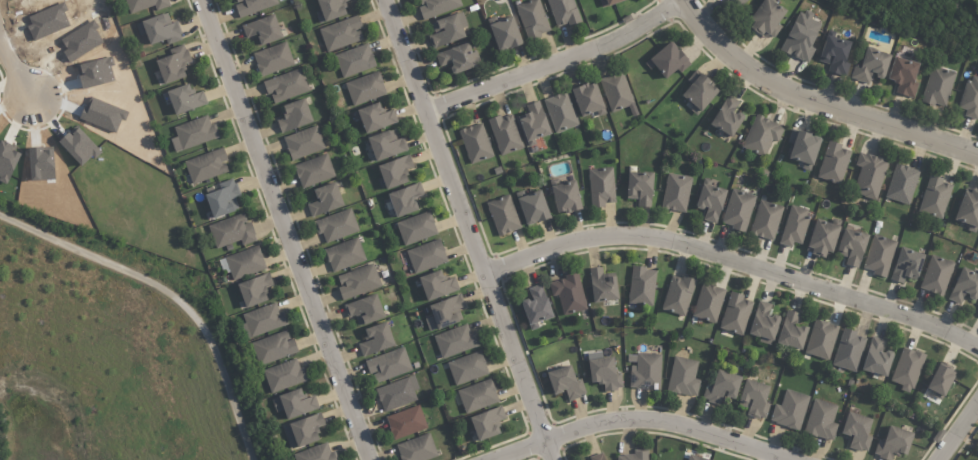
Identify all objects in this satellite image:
building: (23, 0)
building: (611, 2)
building: (738, 3)
building: (145, 5)
building: (252, 6)
building: (437, 7)
building: (330, 9)
building: (563, 12)
building: (532, 19)
building: (766, 19)
building: (48, 21)
building: (262, 29)
building: (447, 29)
building: (159, 30)
building: (341, 33)
building: (504, 33)
building: (800, 37)
building: (81, 41)
building: (834, 55)
building: (457, 58)
building: (273, 59)
building: (354, 60)
building: (667, 61)
road: (558, 63)
building: (173, 64)
building: (870, 66)
building: (95, 73)
road: (12, 74)
building: (903, 76)
building: (285, 86)
building: (937, 86)
building: (364, 88)
building: (616, 92)
building: (698, 92)
building: (970, 97)
building: (185, 99)
building: (588, 100)
road: (815, 104)
building: (560, 112)
building: (294, 115)
building: (726, 116)
building: (375, 117)
building: (533, 123)
building: (193, 133)
building: (505, 134)
building: (760, 135)
building: (303, 143)
building: (475, 143)
building: (386, 145)
building: (802, 148)
building: (832, 163)
building: (206, 166)
building: (313, 171)
building: (394, 172)
building: (869, 176)
building: (901, 184)
building: (601, 187)
building: (639, 188)
building: (676, 192)
building: (565, 197)
building: (934, 197)
building: (222, 199)
building: (404, 199)
building: (324, 200)
building: (709, 202)
building: (532, 207)
building: (967, 207)
building: (737, 210)
building: (503, 215)
building: (765, 220)
building: (336, 225)
building: (794, 225)
building: (416, 228)
road: (468, 229)
road: (283, 230)
building: (231, 231)
building: (821, 239)
building: (851, 246)
building: (344, 254)
building: (878, 255)
building: (426, 256)
road: (735, 260)
building: (245, 263)
building: (905, 265)
building: (935, 275)
building: (358, 282)
building: (436, 285)
building: (602, 285)
building: (641, 286)
building: (964, 286)
building: (254, 290)
road: (171, 292)
building: (568, 293)
building: (678, 295)
building: (708, 303)
building: (535, 307)
building: (364, 310)
building: (444, 313)
building: (977, 313)
building: (735, 314)
building: (263, 320)
building: (762, 323)
building: (791, 331)
building: (376, 339)
building: (820, 339)
building: (455, 341)
building: (273, 348)
building: (848, 350)
building: (876, 358)
building: (388, 365)
building: (467, 368)
building: (906, 369)
building: (603, 372)
building: (645, 372)
building: (284, 376)
building: (683, 377)
building: (939, 380)
building: (565, 383)
building: (721, 387)
building: (395, 394)
building: (477, 396)
building: (754, 399)
building: (294, 404)
building: (789, 410)
building: (821, 420)
building: (405, 422)
road: (634, 422)
building: (487, 423)
building: (303, 431)
building: (856, 431)
road: (957, 431)
building: (892, 443)
building: (416, 448)
building: (315, 454)
building: (634, 455)
building: (597, 457)
building: (694, 458)
road: (771, 459)

